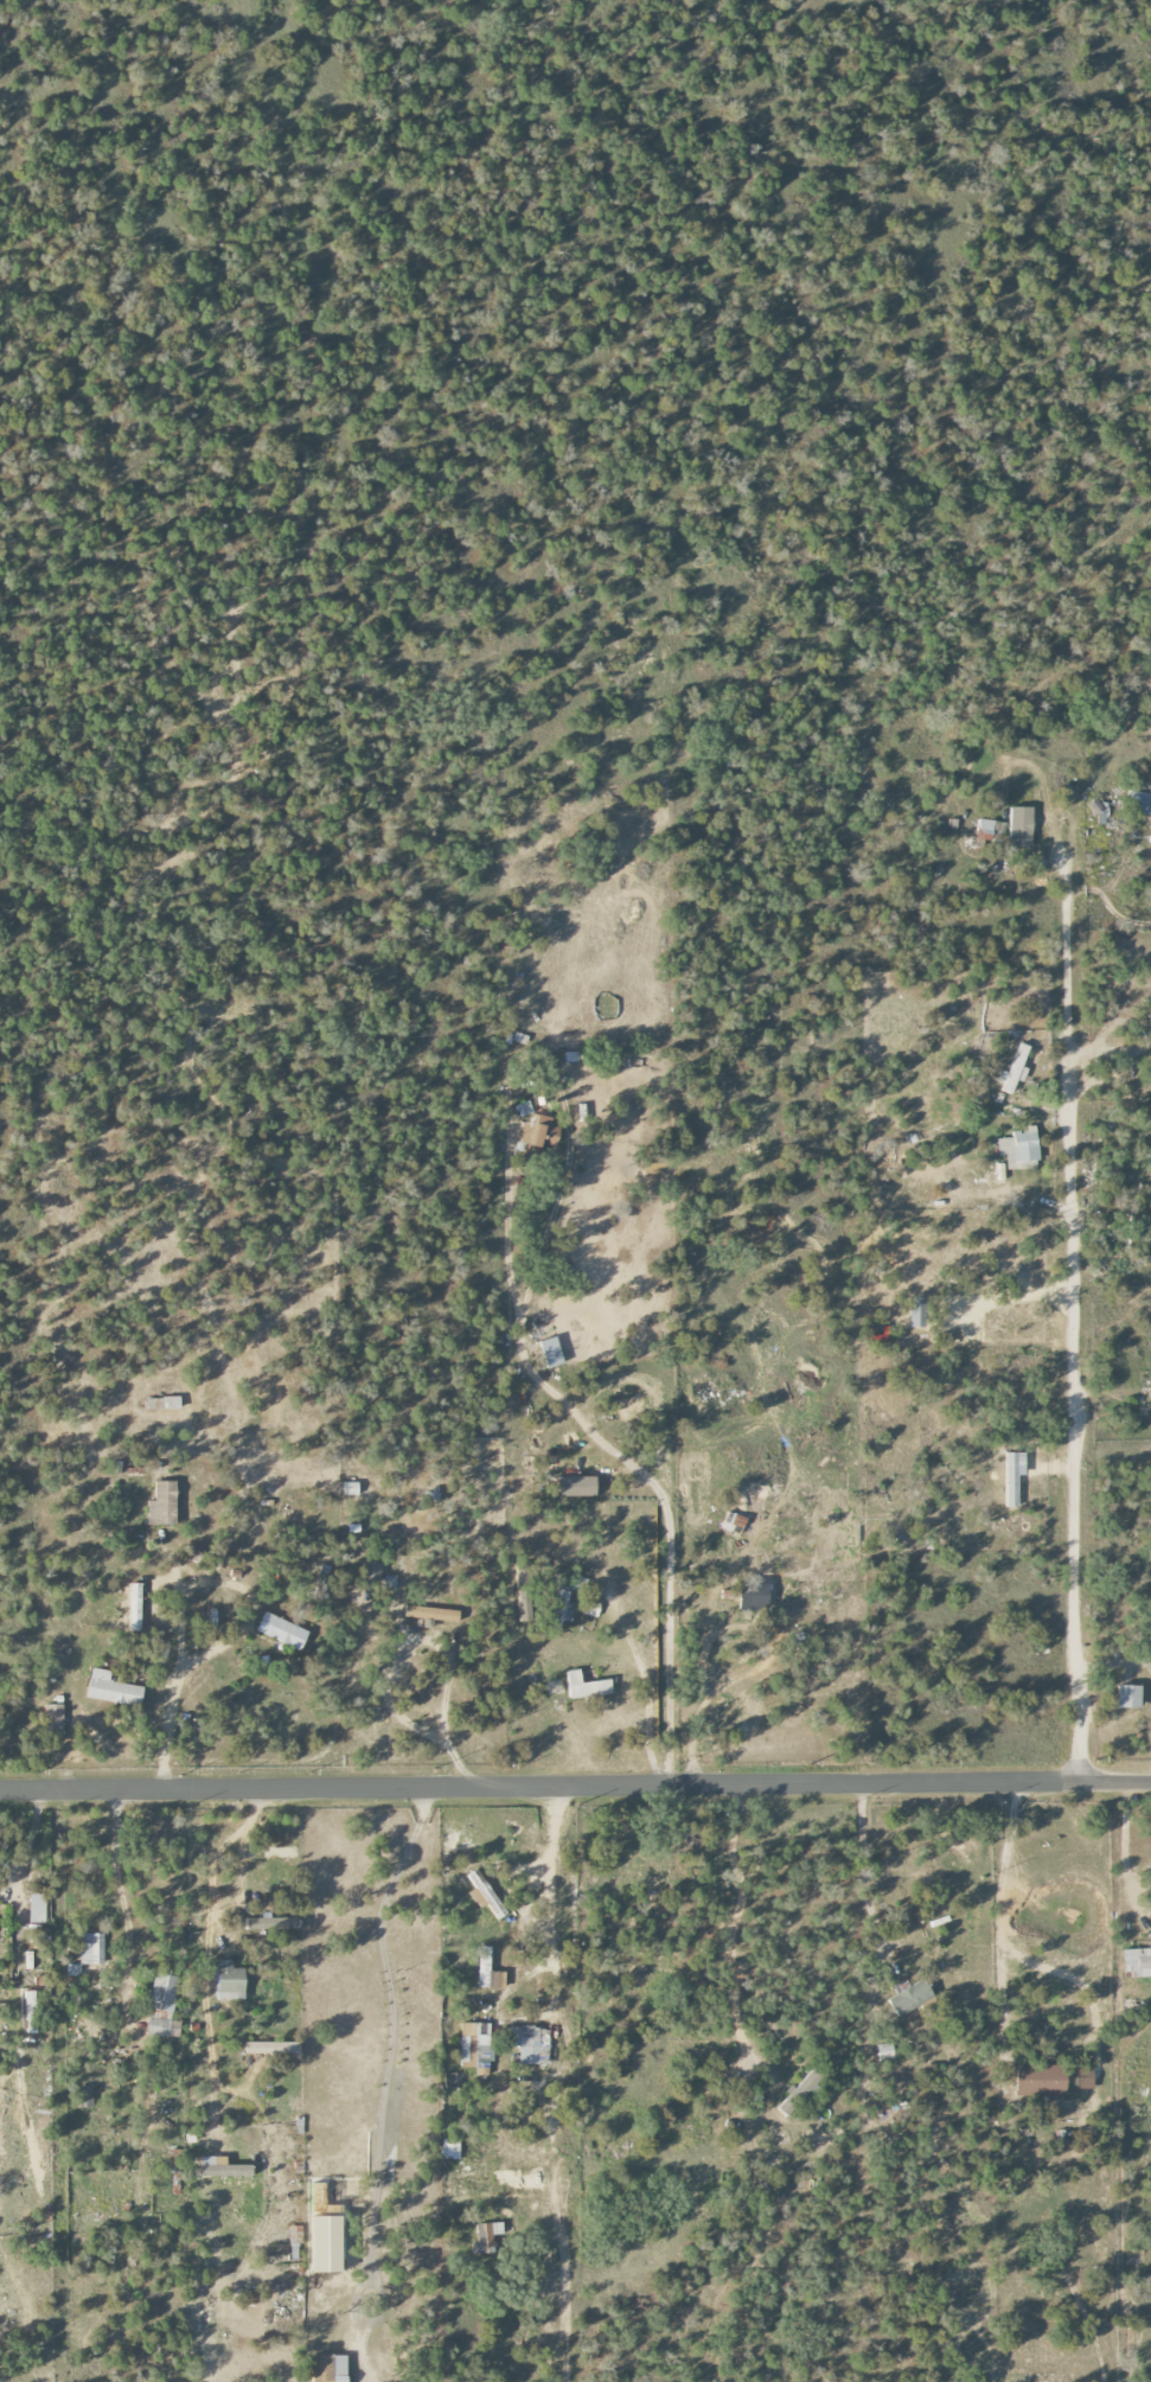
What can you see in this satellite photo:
building: (1140, 804)
building: (1098, 811)
building: (1019, 828)
building: (1013, 1071)
building: (523, 1109)
building: (535, 1135)
building: (1021, 1151)
road: (558, 1182)
road: (1074, 1323)
building: (551, 1352)
road: (610, 1452)
building: (575, 1487)
building: (162, 1505)
building: (370, 1571)
road: (177, 1596)
building: (134, 1607)
building: (592, 1608)
building: (561, 1610)
building: (430, 1614)
building: (281, 1631)
road: (426, 1641)
building: (586, 1686)
road: (645, 1688)
building: (111, 1690)
building: (1128, 1697)
road: (699, 1707)
building: (53, 1718)
road: (595, 1728)
road: (575, 1784)
building: (271, 1852)
road: (862, 1869)
road: (117, 1880)
building: (484, 1895)
road: (543, 1897)
building: (37, 1909)
building: (273, 1922)
road: (729, 1923)
road: (206, 1943)
building: (91, 1948)
road: (1011, 1950)
building: (1137, 1963)
building: (72, 1969)
building: (487, 1969)
building: (229, 1981)
building: (910, 1998)
building: (161, 2007)
building: (31, 2011)
building: (531, 2044)
building: (475, 2045)
building: (271, 2048)
building: (884, 2052)
building: (1085, 2078)
building: (1040, 2081)
road: (382, 2082)
building: (798, 2093)
building: (85, 2097)
building: (450, 2148)
building: (485, 2237)
building: (328, 2368)

